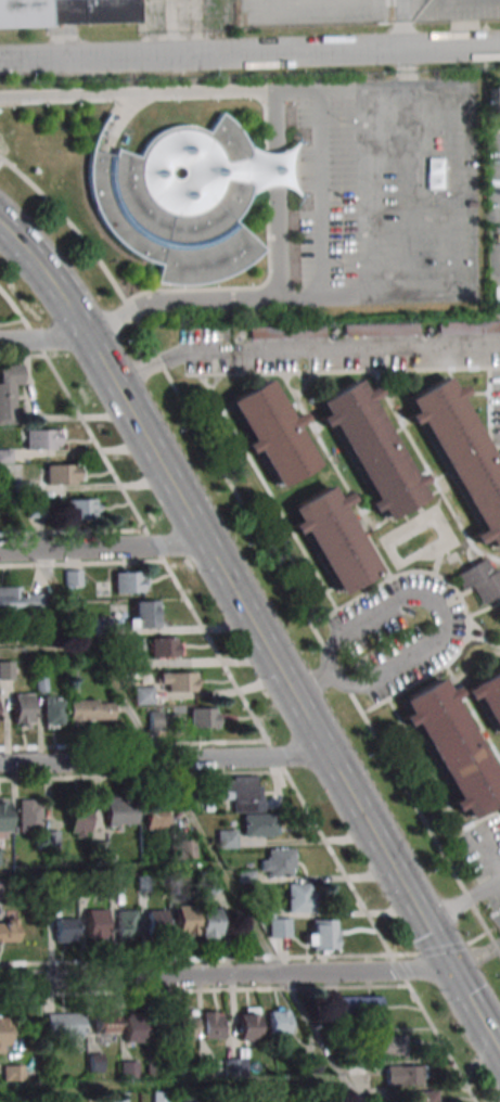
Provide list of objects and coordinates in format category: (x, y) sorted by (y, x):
building: (66, 11)
road: (405, 25)
road: (452, 48)
road: (203, 55)
road: (406, 67)
road: (363, 87)
road: (137, 92)
building: (493, 100)
road: (117, 116)
building: (270, 169)
road: (453, 189)
road: (408, 190)
road: (367, 191)
parking lot: (388, 191)
road: (321, 192)
road: (277, 193)
building: (178, 201)
road: (367, 296)
road: (177, 298)
building: (469, 328)
building: (381, 330)
building: (286, 331)
road: (43, 341)
road: (304, 351)
building: (9, 390)
building: (271, 433)
building: (42, 439)
building: (370, 449)
building: (461, 454)
building: (63, 474)
building: (82, 508)
building: (331, 541)
road: (103, 547)
building: (73, 577)
building: (480, 579)
building: (128, 581)
building: (20, 601)
road: (388, 606)
building: (143, 615)
road: (257, 632)
building: (164, 646)
road: (49, 653)
building: (7, 669)
road: (382, 675)
building: (178, 682)
road: (311, 683)
building: (142, 695)
building: (487, 697)
building: (23, 708)
building: (53, 710)
building: (90, 710)
building: (203, 717)
building: (155, 720)
building: (451, 748)
road: (164, 760)
road: (176, 791)
building: (248, 805)
building: (120, 811)
building: (29, 815)
building: (4, 817)
building: (78, 817)
building: (157, 817)
building: (226, 838)
building: (51, 841)
building: (182, 850)
building: (0, 856)
building: (278, 863)
road: (110, 868)
building: (115, 886)
building: (0, 887)
building: (299, 897)
road: (462, 902)
building: (187, 921)
building: (158, 922)
building: (210, 923)
building: (95, 924)
building: (126, 924)
building: (279, 927)
building: (8, 930)
building: (65, 930)
building: (321, 936)
traffic signals: (451, 971)
road: (226, 976)
building: (356, 1005)
building: (105, 1021)
building: (278, 1021)
building: (63, 1024)
building: (185, 1024)
building: (210, 1024)
building: (247, 1024)
building: (161, 1025)
building: (132, 1027)
building: (4, 1035)
building: (388, 1047)
building: (234, 1066)
building: (128, 1069)
building: (12, 1072)
building: (403, 1074)
road: (169, 1082)
building: (159, 1095)
building: (423, 1095)
building: (117, 1097)

